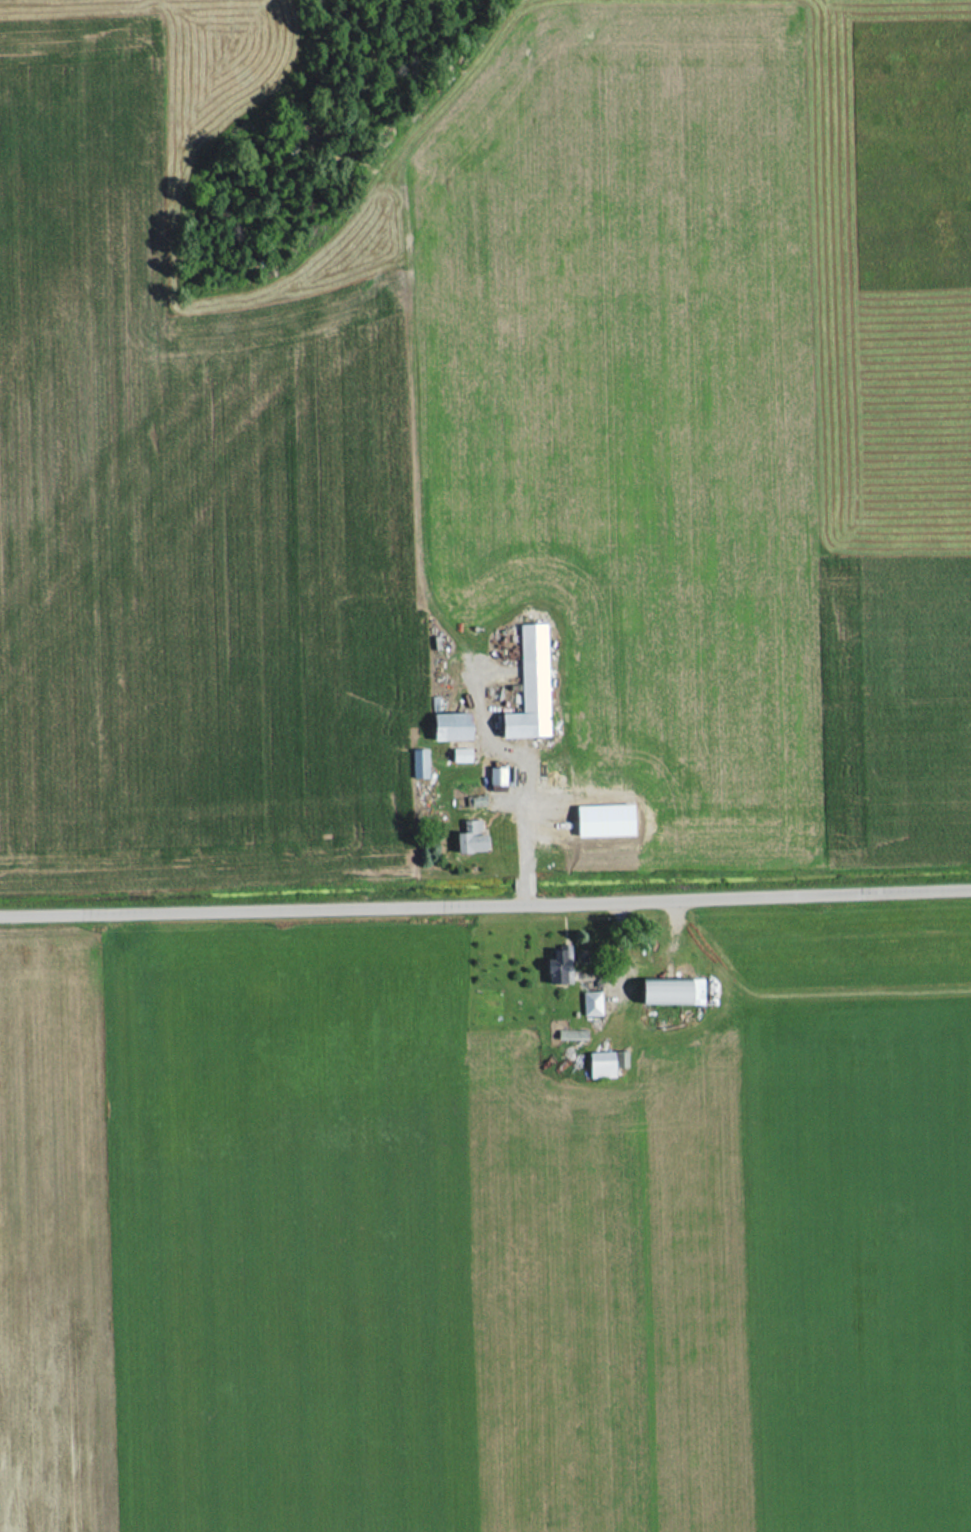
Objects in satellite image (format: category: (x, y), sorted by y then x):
crop: (405, 434)
building: (529, 686)
building: (451, 726)
building: (417, 763)
building: (496, 779)
building: (469, 838)
road: (485, 896)
building: (556, 972)
building: (671, 991)
building: (589, 1004)
building: (600, 1065)
crop: (55, 1242)
crop: (527, 1258)

